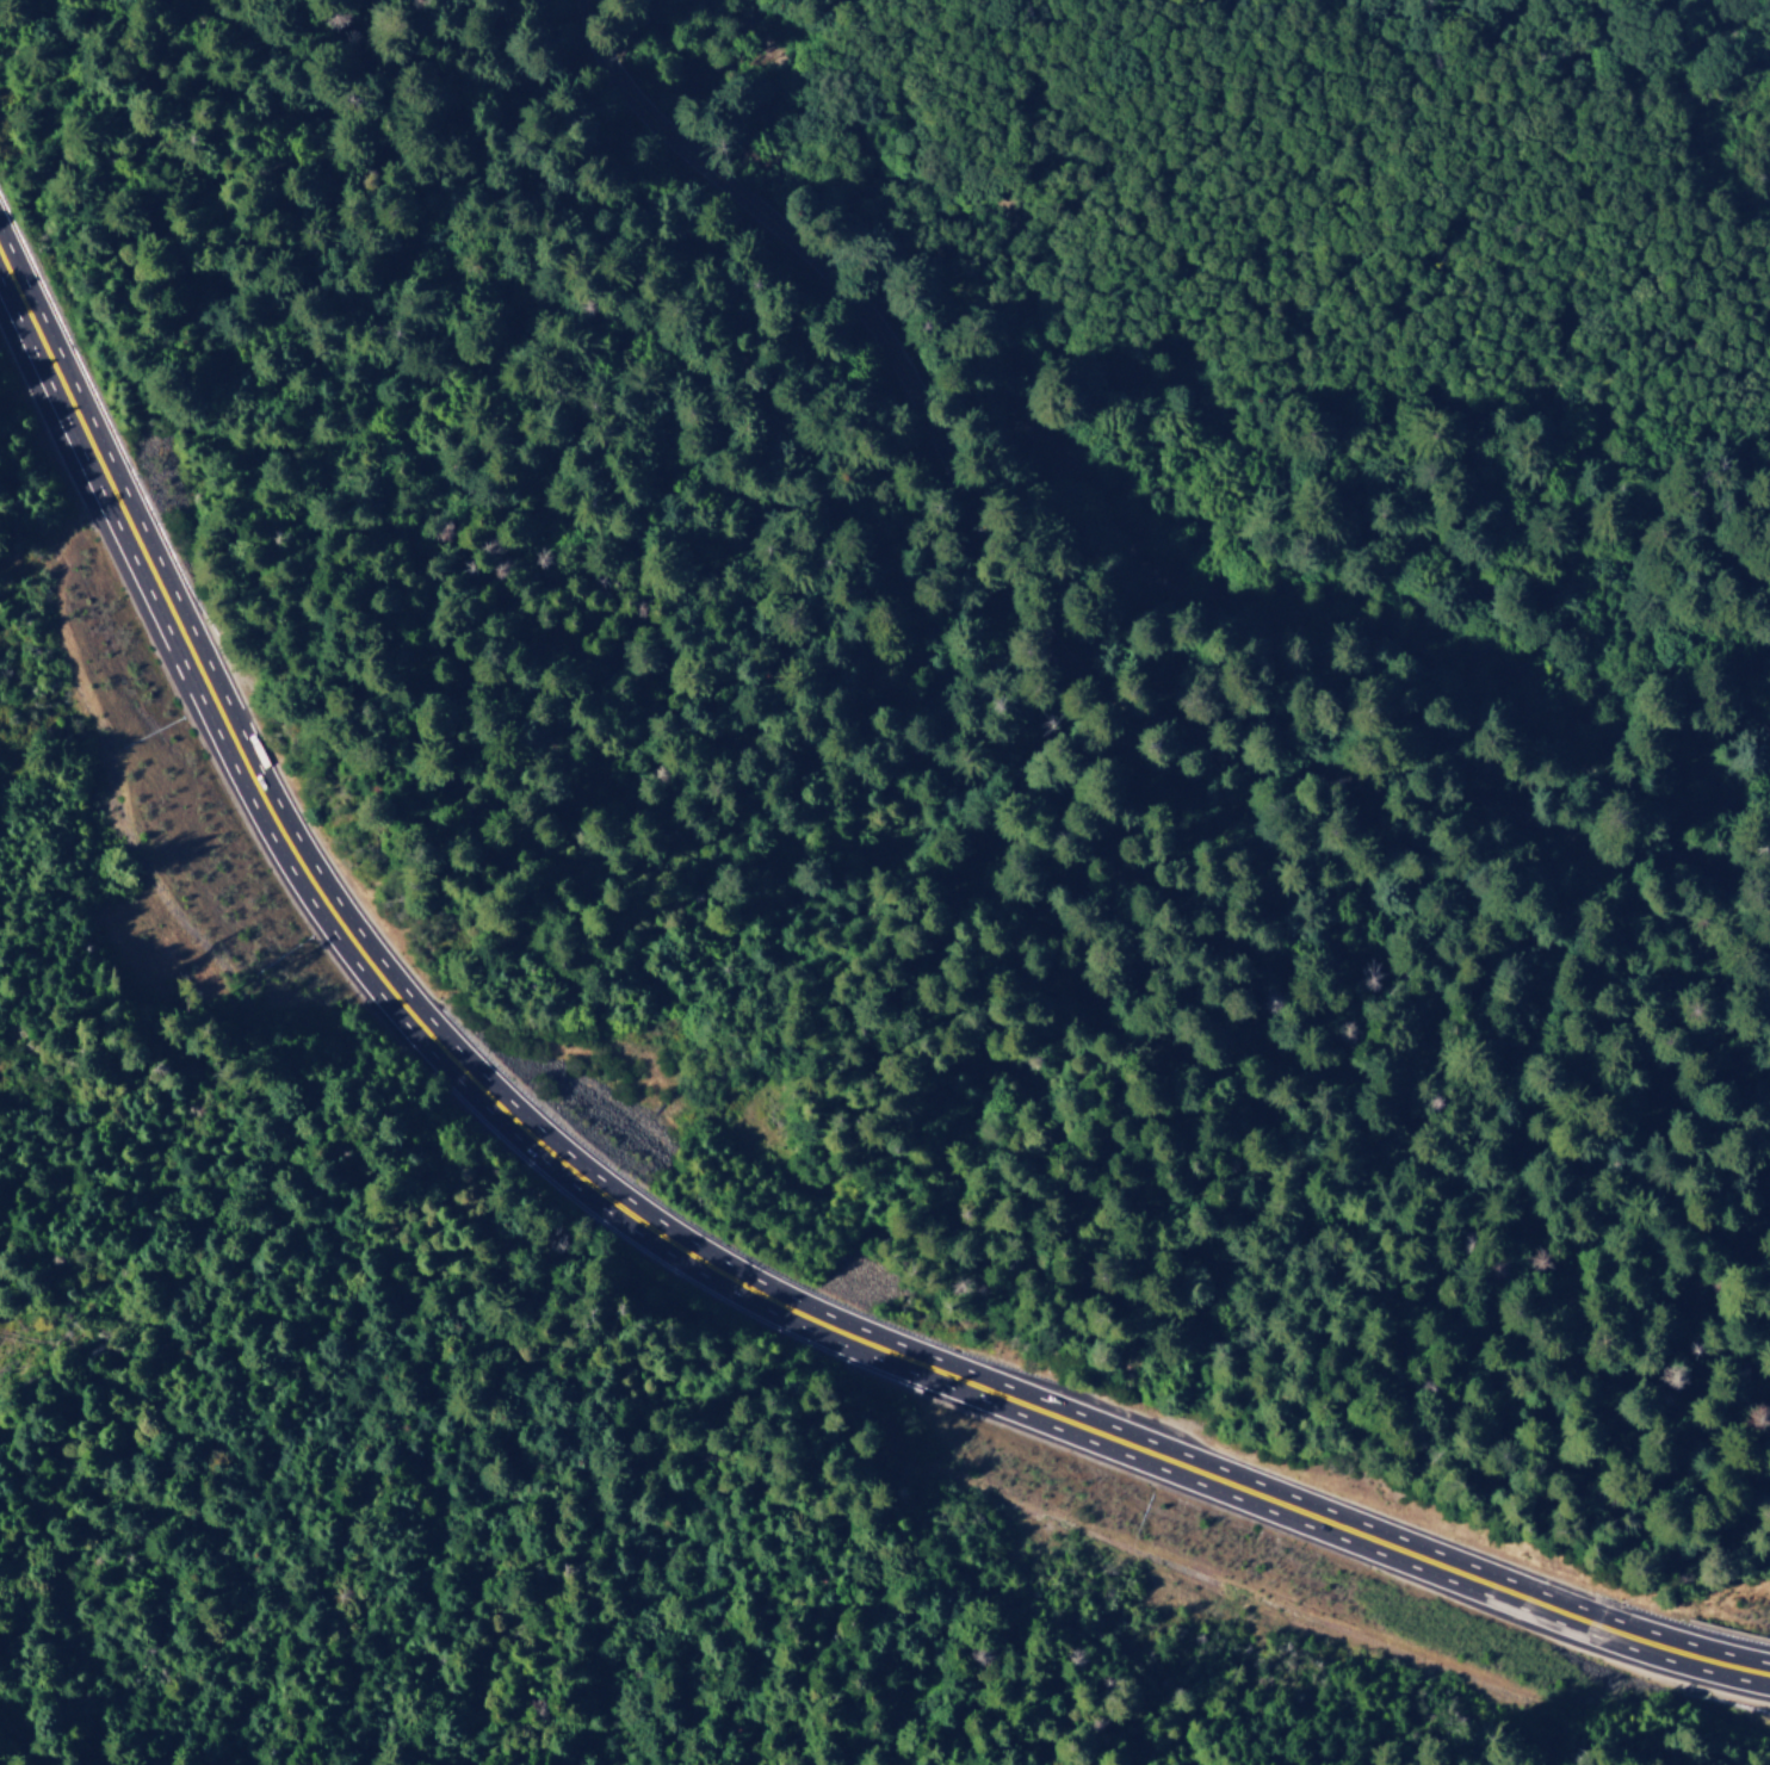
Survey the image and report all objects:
road: (1038, 628)
road: (658, 1238)
road: (35, 1747)

